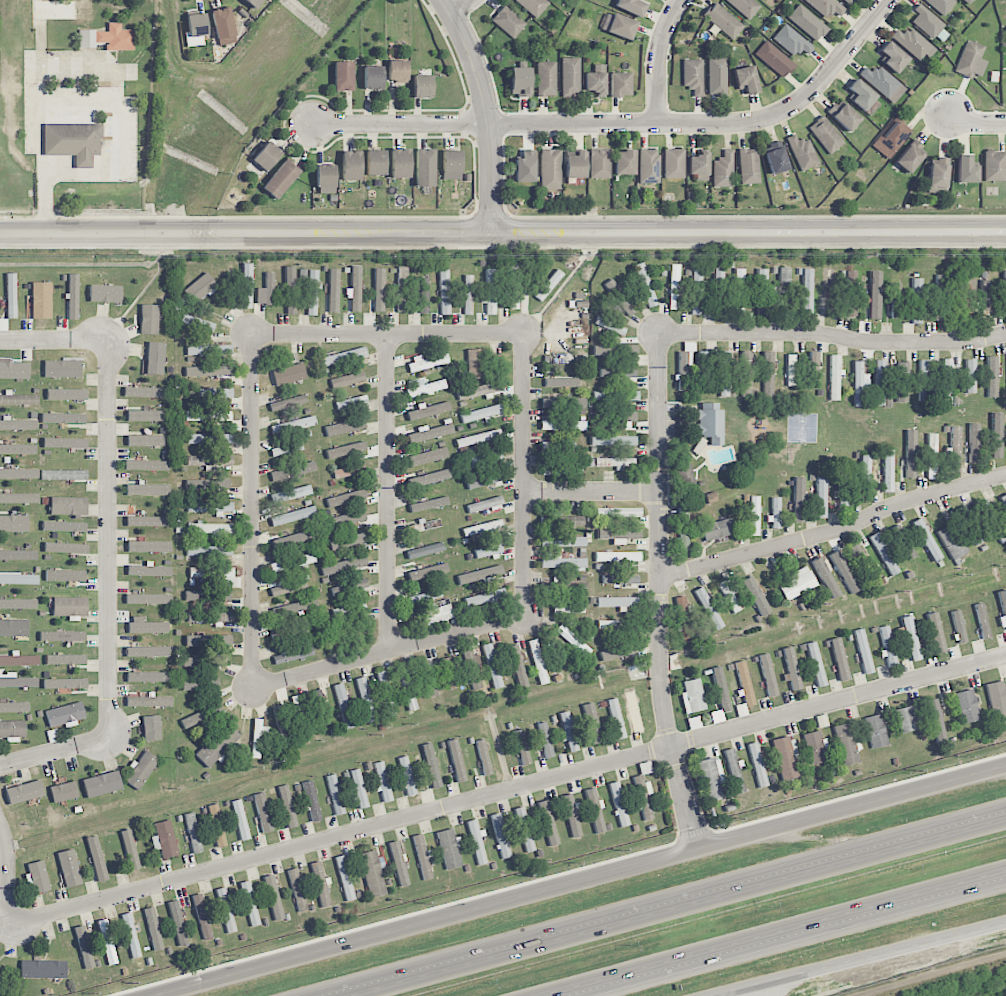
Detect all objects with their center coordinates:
building: (551, 0)
building: (762, 0)
building: (848, 1)
building: (968, 1)
building: (253, 3)
building: (941, 5)
road: (461, 6)
building: (534, 6)
building: (631, 6)
building: (745, 7)
building: (827, 7)
building: (59, 8)
building: (723, 20)
building: (508, 21)
building: (807, 23)
building: (929, 25)
building: (223, 26)
building: (622, 26)
building: (196, 29)
building: (107, 38)
building: (792, 41)
building: (913, 43)
building: (893, 57)
road: (659, 59)
building: (774, 59)
building: (971, 60)
road: (79, 65)
building: (397, 70)
building: (717, 75)
building: (343, 76)
building: (570, 76)
building: (693, 76)
building: (373, 77)
building: (546, 79)
building: (746, 79)
building: (596, 80)
building: (520, 81)
building: (883, 83)
building: (619, 84)
building: (422, 86)
building: (861, 95)
road: (487, 111)
building: (844, 115)
road: (625, 124)
road: (976, 124)
building: (826, 134)
building: (892, 138)
building: (73, 140)
building: (803, 153)
building: (267, 156)
building: (910, 156)
building: (776, 157)
building: (452, 161)
building: (375, 162)
building: (624, 162)
building: (400, 163)
building: (600, 163)
building: (673, 163)
building: (351, 165)
building: (576, 165)
building: (649, 166)
building: (699, 166)
building: (749, 166)
building: (995, 166)
building: (425, 167)
building: (525, 167)
building: (551, 169)
building: (723, 170)
building: (966, 170)
building: (938, 174)
building: (281, 179)
building: (325, 179)
road: (502, 233)
building: (549, 285)
building: (645, 285)
building: (247, 286)
building: (512, 286)
building: (355, 287)
building: (674, 287)
building: (200, 288)
building: (402, 288)
building: (290, 290)
building: (333, 290)
building: (379, 290)
building: (719, 290)
building: (739, 290)
building: (784, 290)
building: (266, 291)
building: (490, 291)
building: (762, 291)
building: (807, 291)
building: (1004, 291)
building: (312, 292)
building: (444, 292)
building: (696, 292)
building: (829, 292)
building: (105, 293)
building: (851, 293)
building: (940, 294)
building: (424, 295)
building: (468, 295)
building: (875, 295)
building: (11, 296)
building: (73, 296)
building: (620, 297)
building: (986, 298)
building: (41, 300)
building: (896, 300)
building: (917, 300)
building: (149, 319)
building: (197, 323)
building: (610, 325)
road: (386, 333)
road: (832, 336)
road: (54, 339)
building: (209, 350)
building: (615, 350)
building: (345, 356)
building: (155, 358)
building: (426, 363)
building: (476, 364)
building: (684, 364)
building: (62, 368)
building: (812, 369)
building: (14, 370)
building: (791, 370)
building: (703, 371)
building: (724, 373)
building: (747, 373)
building: (289, 374)
building: (768, 374)
building: (971, 376)
building: (992, 376)
building: (348, 377)
building: (835, 378)
building: (924, 380)
building: (947, 381)
building: (561, 382)
building: (902, 382)
building: (859, 383)
building: (880, 383)
building: (426, 388)
building: (479, 390)
building: (144, 392)
building: (215, 393)
building: (66, 394)
building: (616, 395)
building: (19, 399)
building: (351, 402)
building: (288, 403)
building: (563, 403)
building: (429, 410)
building: (481, 413)
building: (145, 416)
building: (208, 416)
building: (63, 418)
building: (710, 422)
building: (18, 425)
building: (293, 425)
building: (347, 425)
building: (563, 425)
building: (430, 433)
building: (997, 435)
building: (478, 438)
building: (210, 439)
building: (145, 440)
building: (613, 440)
building: (64, 443)
building: (975, 443)
building: (558, 446)
building: (17, 449)
building: (286, 449)
building: (953, 449)
building: (346, 450)
building: (911, 454)
building: (932, 456)
building: (427, 457)
building: (209, 461)
building: (614, 462)
building: (146, 465)
building: (561, 468)
building: (684, 470)
building: (888, 470)
building: (292, 471)
building: (348, 471)
building: (18, 473)
road: (523, 474)
building: (64, 475)
building: (865, 477)
building: (429, 478)
building: (481, 481)
building: (207, 484)
building: (148, 489)
road: (387, 492)
road: (590, 492)
building: (291, 493)
building: (711, 497)
building: (821, 497)
building: (19, 498)
building: (346, 498)
building: (799, 499)
building: (1004, 499)
building: (428, 504)
building: (485, 504)
building: (68, 506)
building: (210, 507)
road: (251, 511)
building: (618, 512)
building: (775, 513)
building: (754, 515)
building: (293, 516)
building: (348, 518)
building: (147, 521)
building: (572, 521)
building: (13, 523)
building: (970, 525)
building: (64, 526)
building: (423, 526)
building: (211, 528)
building: (483, 528)
building: (718, 529)
building: (683, 530)
road: (833, 530)
building: (619, 535)
road: (109, 536)
building: (294, 538)
building: (927, 539)
building: (347, 541)
building: (563, 541)
building: (952, 541)
building: (903, 542)
building: (149, 546)
building: (65, 548)
building: (425, 550)
building: (209, 551)
building: (488, 551)
building: (884, 554)
building: (17, 555)
building: (618, 556)
building: (292, 562)
building: (860, 562)
building: (563, 563)
building: (148, 570)
building: (842, 570)
building: (428, 572)
building: (65, 575)
building: (215, 575)
building: (480, 575)
building: (19, 579)
building: (620, 579)
building: (797, 583)
building: (289, 586)
building: (350, 586)
building: (565, 586)
road: (659, 593)
building: (207, 595)
building: (756, 596)
building: (425, 597)
building: (730, 597)
building: (483, 598)
building: (148, 599)
building: (617, 602)
building: (18, 604)
building: (69, 606)
building: (294, 607)
building: (568, 607)
building: (709, 608)
building: (1002, 608)
building: (349, 610)
building: (438, 614)
building: (210, 617)
building: (683, 618)
building: (982, 621)
building: (146, 626)
building: (13, 627)
building: (618, 627)
building: (958, 627)
building: (288, 631)
building: (936, 633)
building: (62, 636)
building: (911, 638)
building: (208, 640)
building: (573, 640)
building: (887, 646)
building: (147, 651)
road: (387, 651)
building: (863, 651)
building: (617, 652)
building: (294, 654)
building: (65, 659)
building: (839, 659)
building: (19, 660)
building: (203, 661)
building: (538, 662)
building: (816, 664)
building: (492, 666)
building: (518, 666)
building: (792, 668)
building: (472, 669)
building: (447, 672)
building: (768, 675)
building: (148, 677)
building: (427, 677)
building: (16, 681)
building: (65, 683)
building: (200, 683)
building: (745, 683)
building: (406, 687)
building: (385, 693)
building: (692, 696)
building: (997, 698)
building: (365, 699)
building: (149, 701)
building: (343, 706)
building: (967, 706)
building: (14, 707)
building: (634, 711)
building: (65, 714)
building: (616, 719)
building: (905, 719)
building: (935, 720)
building: (592, 723)
building: (694, 723)
building: (151, 728)
building: (12, 730)
building: (568, 731)
building: (876, 731)
building: (258, 739)
building: (545, 740)
building: (846, 743)
building: (217, 744)
building: (522, 747)
building: (814, 747)
road: (54, 750)
building: (484, 757)
building: (786, 758)
building: (456, 760)
building: (757, 765)
building: (645, 768)
building: (430, 769)
building: (141, 770)
building: (406, 776)
building: (712, 778)
building: (382, 780)
building: (101, 784)
building: (358, 788)
road: (506, 789)
building: (24, 792)
building: (63, 792)
building: (335, 794)
building: (643, 796)
building: (311, 801)
building: (619, 804)
building: (287, 806)
building: (596, 811)
building: (262, 812)
building: (571, 815)
building: (240, 820)
building: (548, 823)
building: (216, 825)
building: (524, 829)
building: (193, 833)
building: (500, 835)
building: (164, 839)
building: (476, 842)
building: (449, 849)
building: (129, 850)
building: (422, 856)
building: (96, 858)
building: (398, 863)
building: (68, 868)
road: (9, 874)
building: (372, 874)
building: (37, 876)
building: (344, 878)
road: (581, 881)
building: (321, 885)
building: (297, 889)
building: (273, 897)
building: (249, 903)
road: (683, 908)
building: (225, 910)
building: (202, 916)
building: (153, 928)
road: (772, 932)
building: (131, 935)
building: (107, 942)
building: (84, 947)
road: (859, 957)
building: (43, 969)
road: (932, 976)

